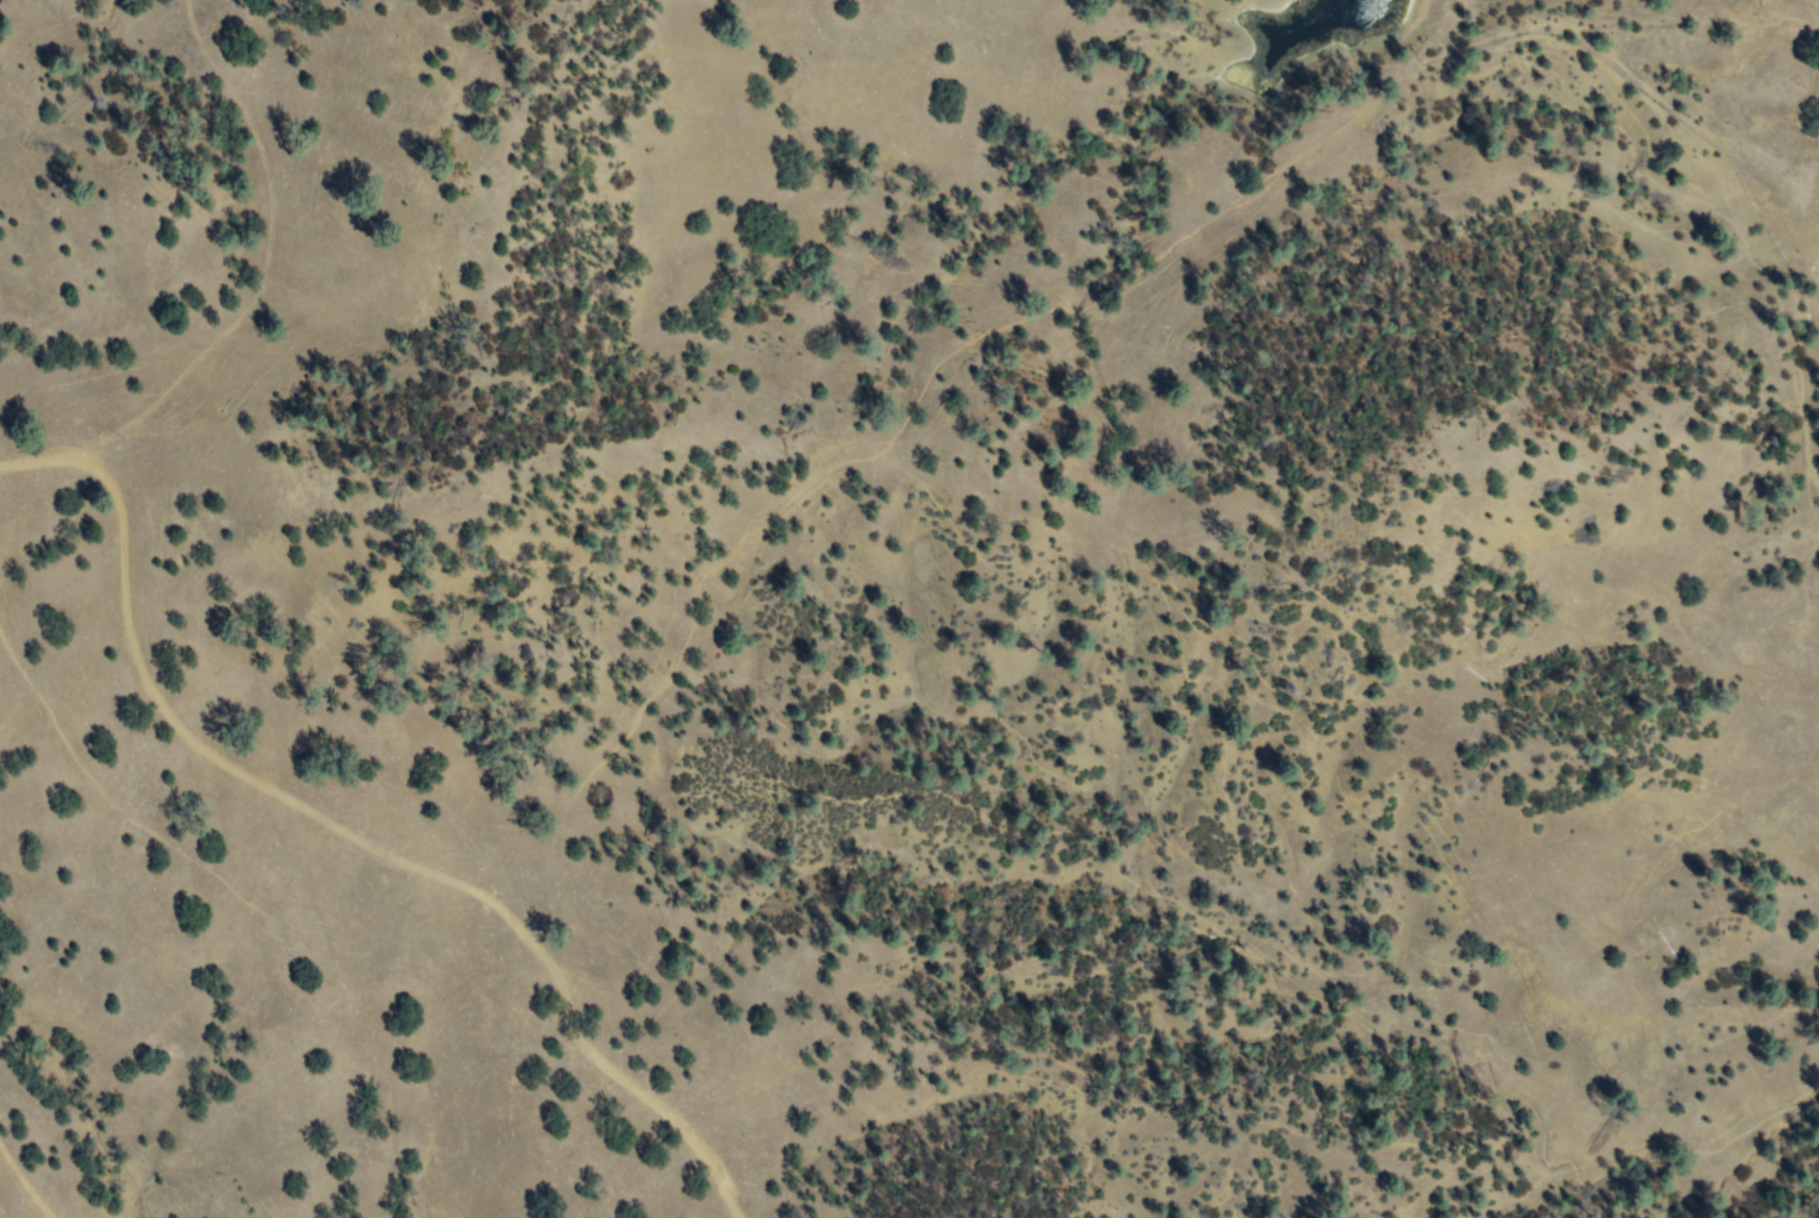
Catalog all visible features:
dam: (1442, 7)

